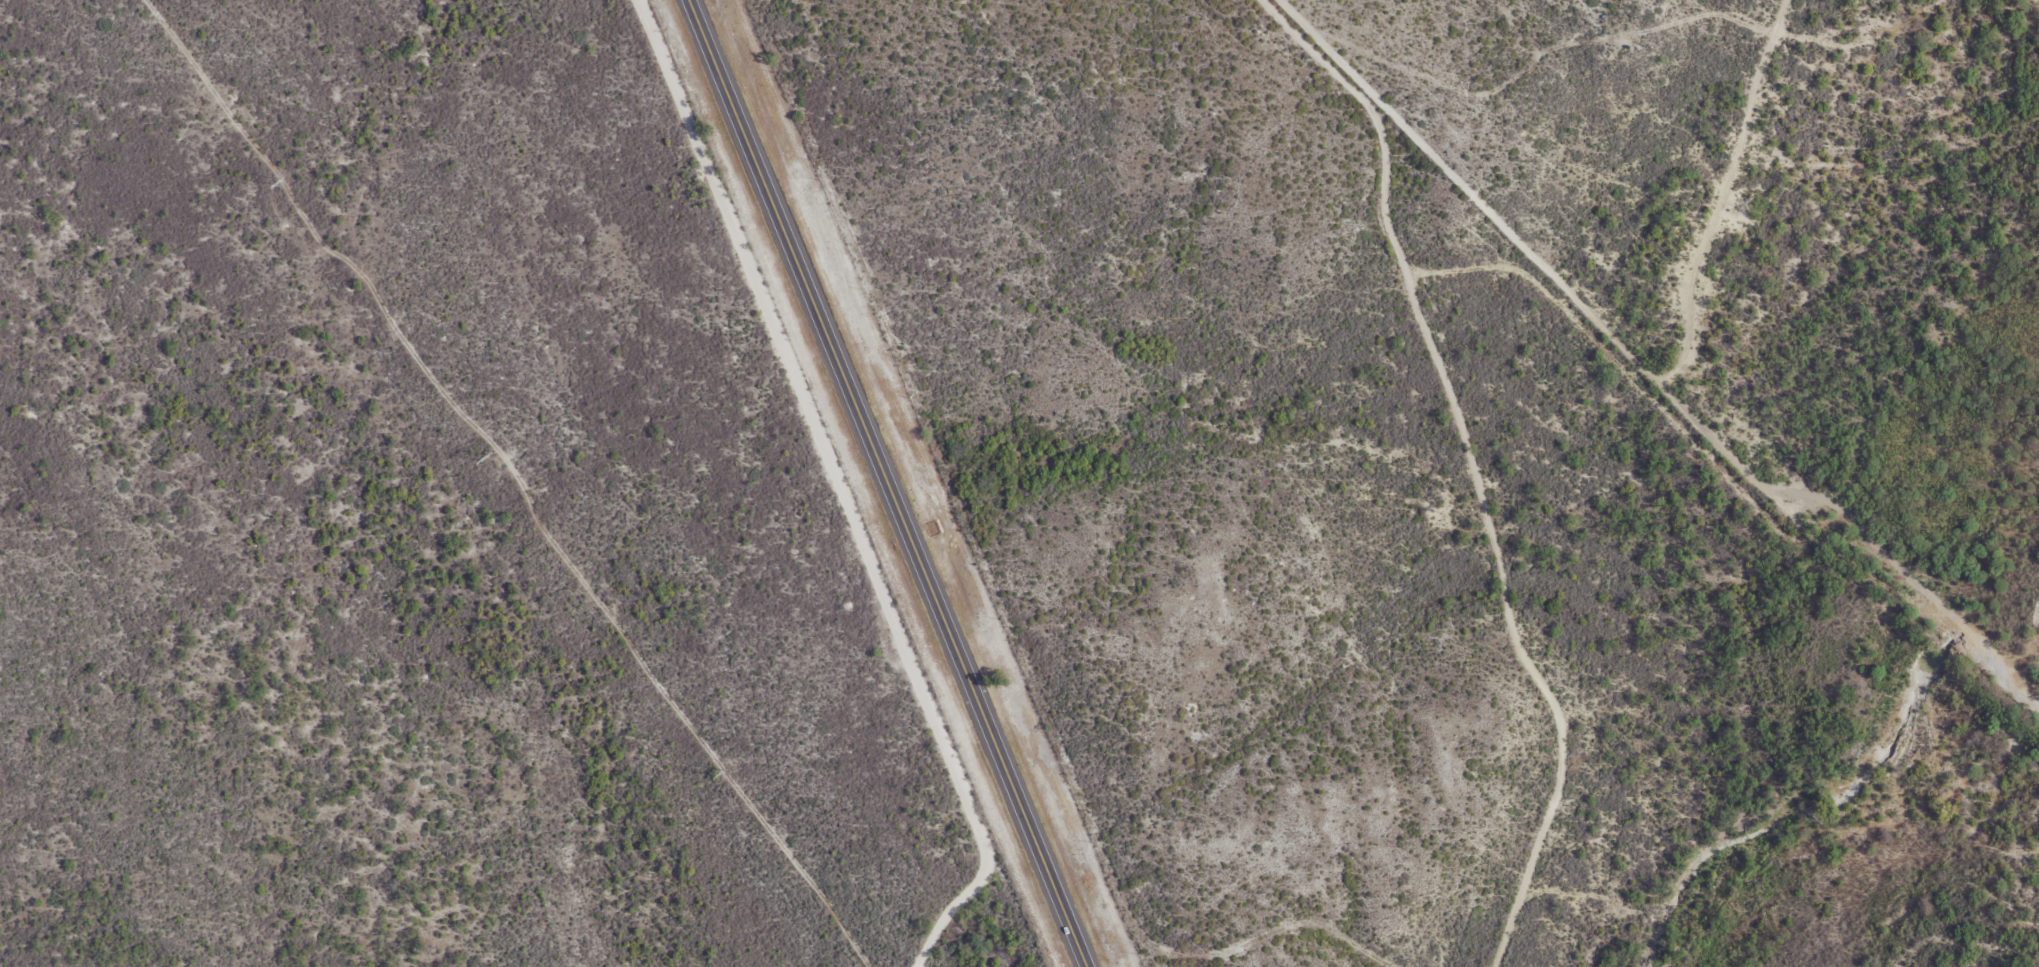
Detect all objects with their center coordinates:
power tower: (280, 184)
power tower: (492, 459)
road: (733, 477)
road: (889, 484)
power tower: (730, 770)

